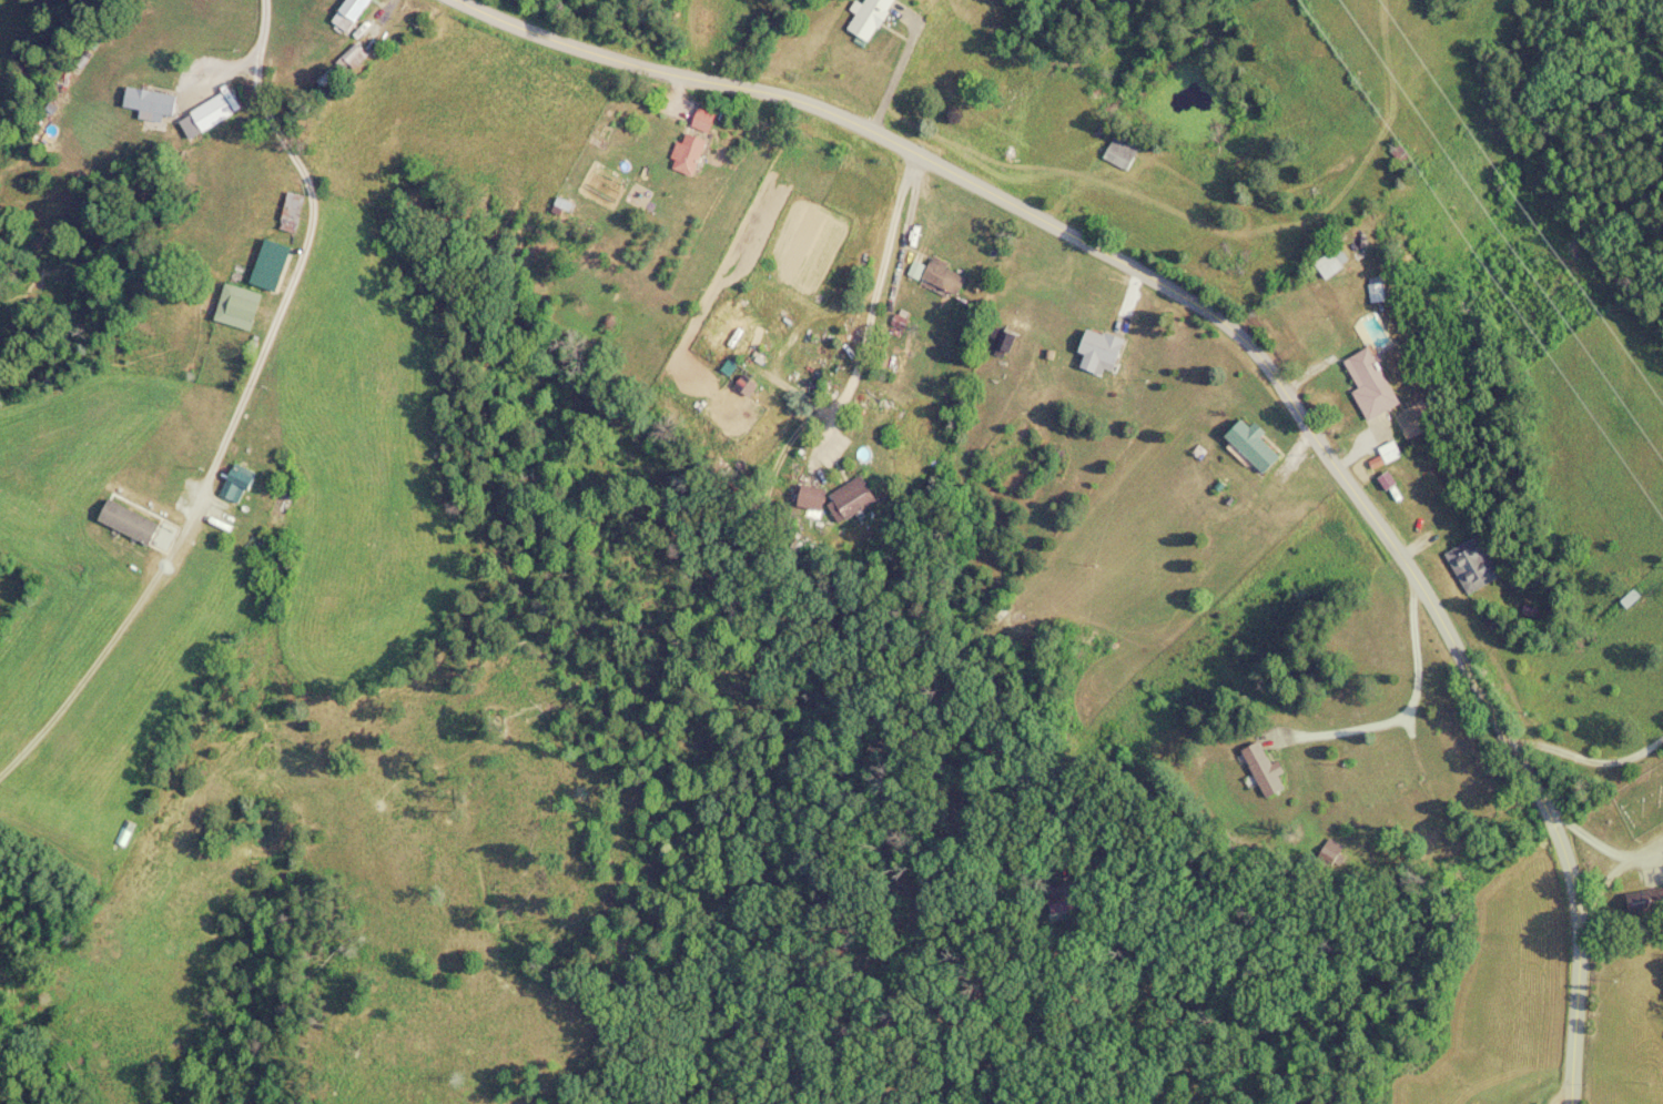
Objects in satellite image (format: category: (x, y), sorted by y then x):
building: (347, 13)
building: (868, 18)
building: (149, 102)
building: (212, 112)
building: (692, 143)
building: (1119, 154)
building: (291, 213)
road: (303, 253)
building: (1330, 264)
building: (942, 276)
building: (237, 307)
building: (720, 327)
building: (1099, 352)
road: (1210, 372)
building: (1369, 385)
building: (1251, 446)
building: (236, 485)
building: (852, 499)
building: (128, 523)
building: (1472, 565)
building: (1263, 770)
building: (1641, 903)

